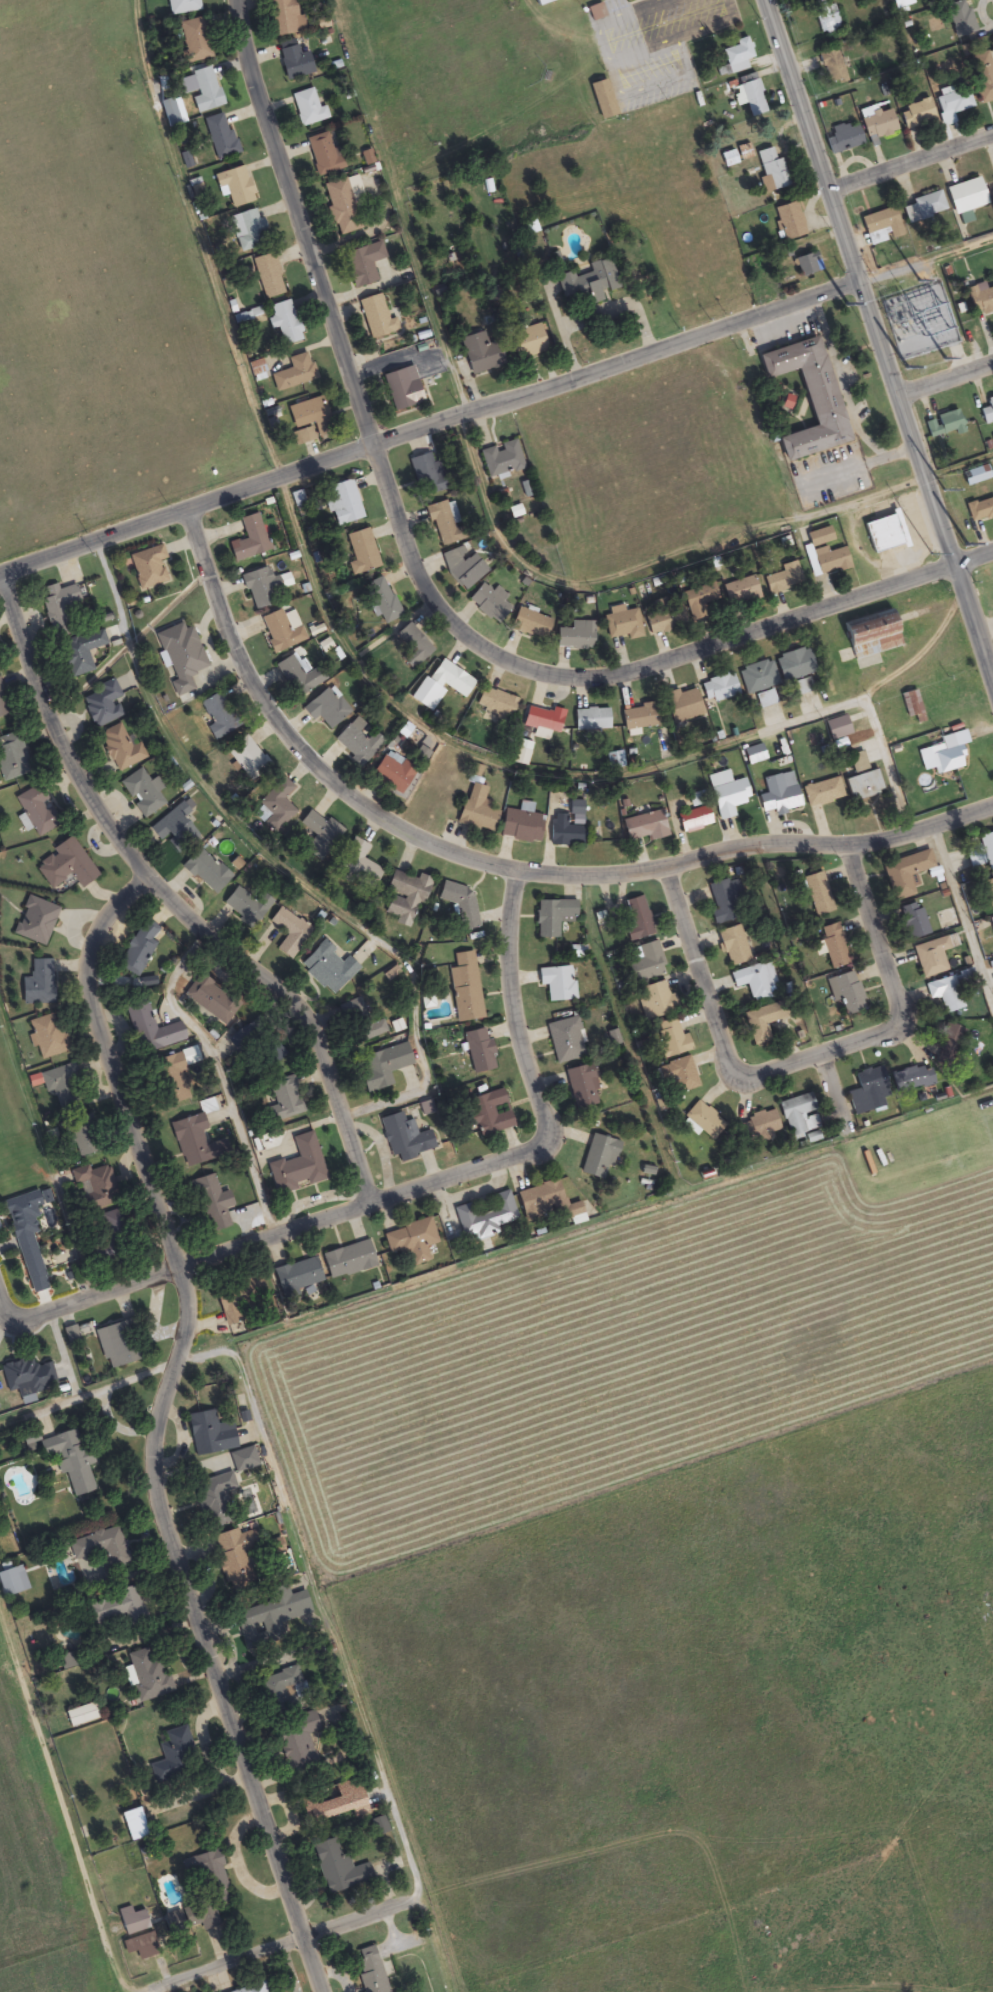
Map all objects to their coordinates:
building: (625, 0)
building: (540, 1)
road: (633, 1)
building: (181, 7)
building: (595, 12)
building: (281, 18)
building: (827, 18)
building: (961, 21)
road: (677, 35)
building: (193, 41)
parking lot: (652, 44)
building: (736, 56)
road: (606, 59)
building: (292, 61)
building: (830, 68)
building: (981, 76)
building: (205, 91)
building: (750, 95)
building: (601, 100)
building: (954, 102)
building: (307, 108)
building: (915, 114)
building: (877, 125)
building: (219, 137)
building: (842, 139)
building: (321, 155)
building: (728, 158)
road: (911, 163)
building: (770, 169)
building: (992, 181)
building: (234, 187)
building: (964, 197)
building: (341, 207)
building: (923, 208)
building: (788, 222)
building: (879, 227)
building: (247, 230)
building: (362, 264)
building: (807, 265)
building: (268, 276)
power tower: (916, 279)
building: (587, 283)
building: (980, 299)
power tower: (846, 302)
building: (375, 318)
power substation: (918, 318)
building: (284, 323)
road: (881, 339)
building: (524, 343)
building: (479, 354)
power tower: (943, 356)
power tower: (906, 365)
building: (294, 373)
road: (947, 381)
building: (401, 389)
building: (806, 397)
building: (987, 411)
building: (306, 414)
road: (429, 424)
building: (302, 437)
building: (501, 460)
building: (426, 473)
building: (975, 476)
power tower: (944, 488)
building: (342, 503)
building: (979, 510)
building: (441, 522)
building: (881, 534)
building: (249, 540)
power tower: (965, 543)
building: (361, 552)
power tower: (931, 553)
road: (974, 557)
building: (828, 560)
building: (147, 567)
building: (462, 567)
road: (417, 571)
building: (782, 578)
building: (258, 587)
building: (740, 591)
building: (382, 600)
building: (699, 600)
building: (487, 601)
building: (57, 607)
building: (663, 618)
building: (529, 623)
building: (622, 625)
building: (280, 632)
building: (575, 636)
building: (868, 639)
building: (412, 646)
building: (78, 653)
building: (180, 656)
building: (794, 664)
building: (296, 677)
building: (757, 677)
building: (441, 684)
building: (801, 687)
building: (718, 688)
building: (764, 699)
building: (495, 703)
building: (910, 704)
building: (101, 705)
building: (682, 705)
building: (2, 706)
building: (325, 708)
building: (217, 717)
building: (637, 718)
building: (543, 719)
building: (591, 719)
building: (836, 728)
building: (357, 740)
building: (121, 749)
building: (753, 754)
building: (945, 756)
building: (11, 758)
building: (248, 759)
building: (855, 762)
building: (392, 773)
building: (862, 785)
building: (822, 792)
building: (142, 793)
building: (726, 793)
building: (778, 794)
building: (274, 807)
building: (476, 810)
building: (37, 811)
building: (693, 819)
building: (172, 820)
building: (520, 826)
building: (643, 827)
building: (318, 832)
building: (563, 832)
building: (986, 848)
building: (358, 864)
building: (65, 865)
building: (205, 871)
building: (904, 873)
road: (496, 874)
building: (988, 892)
building: (817, 894)
road: (167, 898)
building: (404, 898)
building: (724, 901)
building: (248, 902)
building: (460, 904)
building: (552, 917)
building: (637, 919)
building: (912, 920)
building: (35, 921)
building: (289, 932)
building: (732, 946)
building: (834, 946)
building: (139, 948)
building: (576, 949)
building: (932, 955)
building: (645, 962)
building: (327, 968)
building: (755, 982)
building: (556, 983)
building: (37, 984)
building: (464, 988)
building: (945, 993)
building: (846, 994)
building: (654, 1000)
building: (210, 1001)
building: (360, 1021)
building: (761, 1022)
building: (148, 1028)
building: (47, 1036)
building: (246, 1036)
building: (671, 1038)
building: (948, 1039)
building: (565, 1040)
building: (272, 1050)
building: (478, 1050)
road: (804, 1061)
building: (386, 1064)
building: (678, 1076)
building: (911, 1079)
building: (170, 1080)
building: (61, 1084)
building: (581, 1086)
building: (866, 1091)
building: (285, 1100)
building: (485, 1114)
building: (799, 1116)
building: (702, 1120)
building: (756, 1128)
building: (80, 1136)
building: (404, 1138)
building: (195, 1141)
building: (598, 1157)
building: (297, 1166)
building: (93, 1186)
road: (394, 1187)
building: (547, 1202)
building: (209, 1203)
building: (24, 1213)
building: (484, 1218)
building: (110, 1240)
building: (411, 1241)
building: (347, 1260)
building: (296, 1276)
building: (116, 1345)
building: (26, 1377)
road: (160, 1429)
building: (209, 1434)
building: (69, 1459)
building: (212, 1499)
building: (102, 1548)
building: (233, 1554)
building: (12, 1582)
building: (113, 1607)
building: (270, 1615)
building: (146, 1675)
building: (281, 1692)
building: (80, 1715)
building: (296, 1743)
building: (172, 1755)
building: (332, 1803)
building: (377, 1826)
building: (337, 1867)
building: (203, 1873)
building: (185, 1916)
road: (356, 1919)
building: (131, 1920)
building: (139, 1947)
road: (234, 1961)
building: (369, 1970)
building: (251, 1989)

